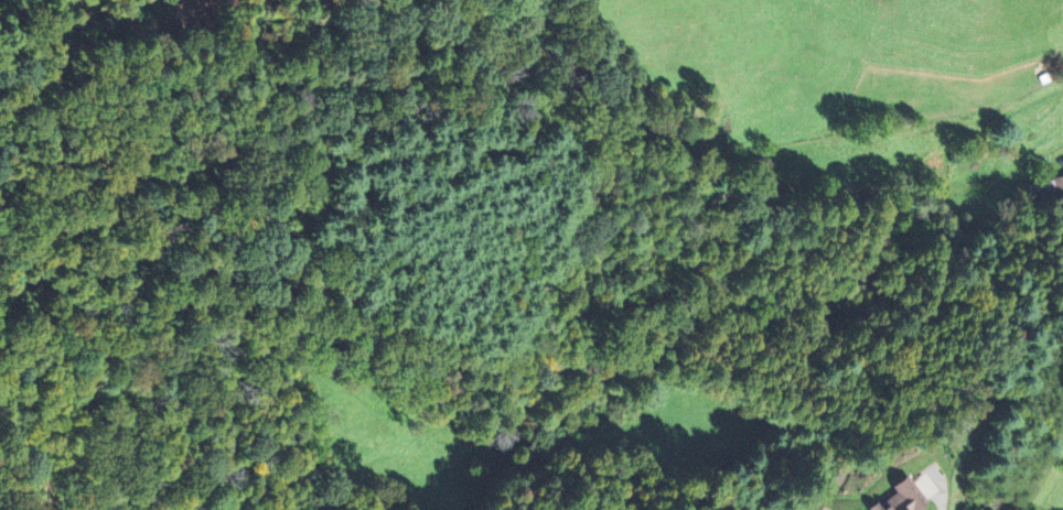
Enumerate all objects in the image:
building: (1048, 186)
building: (902, 497)

